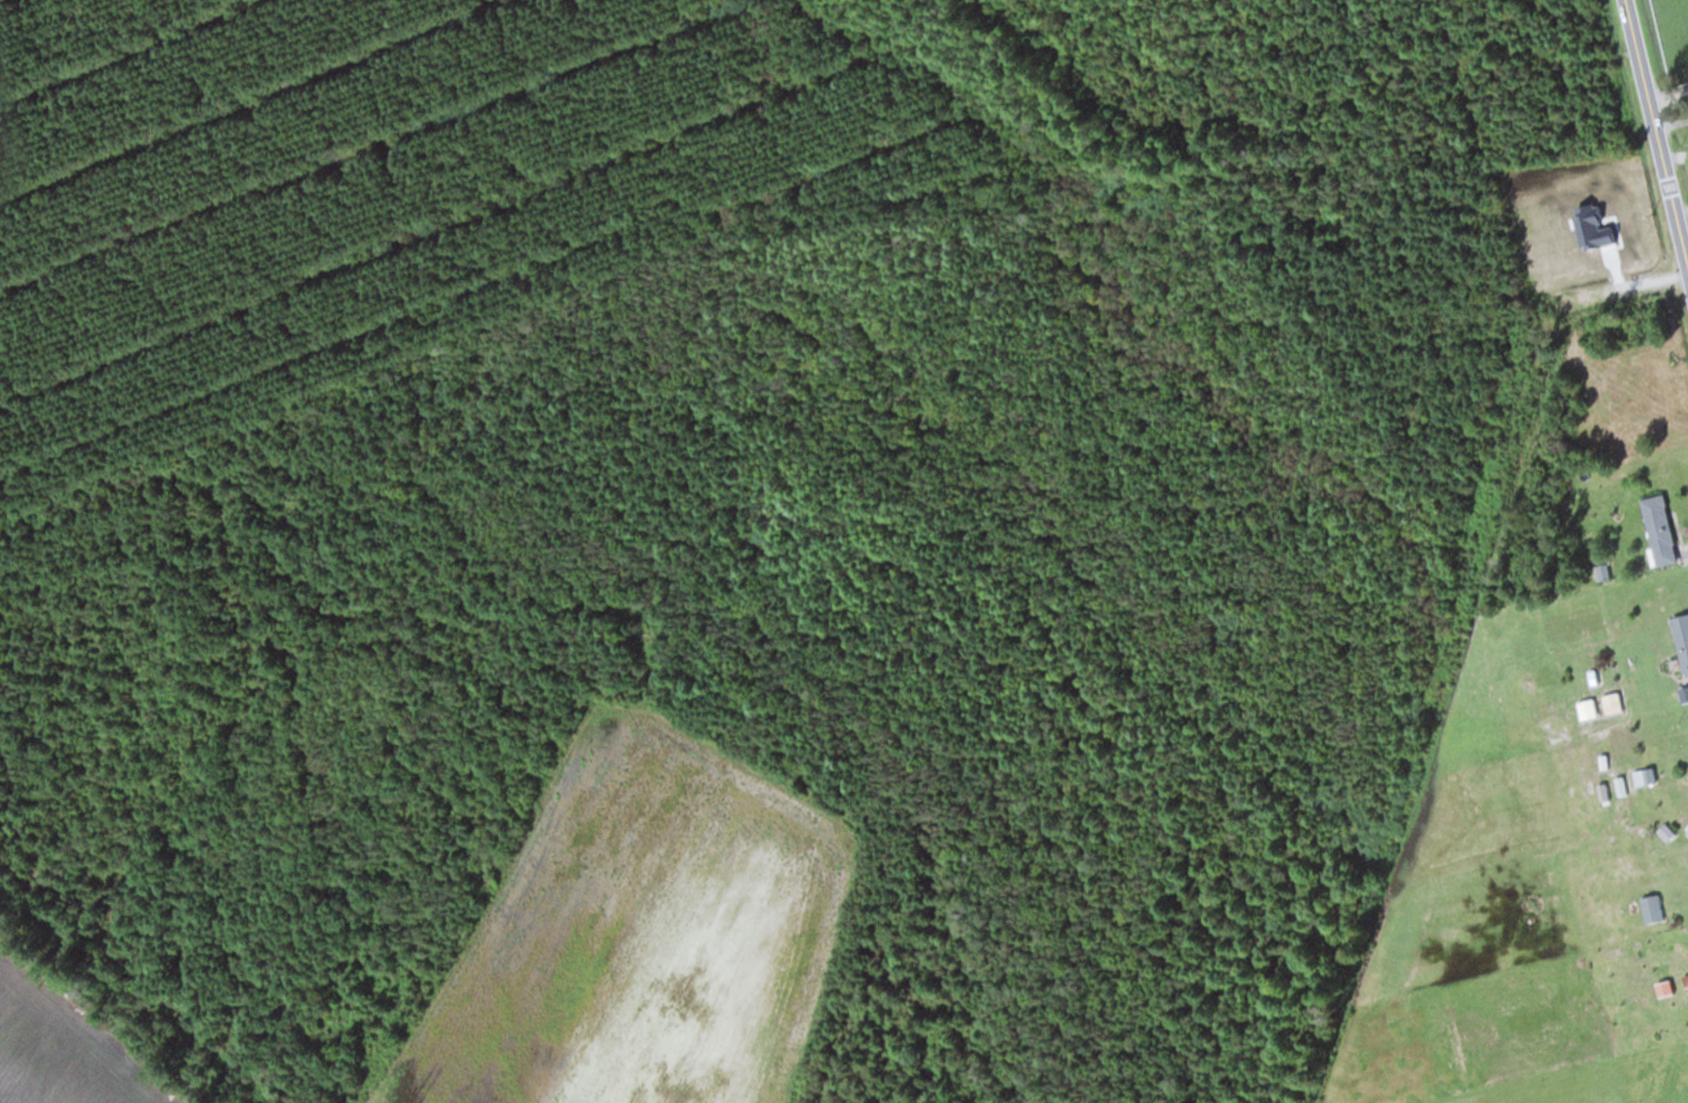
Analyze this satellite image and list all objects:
road: (1668, 94)
road: (1656, 130)
building: (1658, 535)
building: (1680, 640)
building: (1611, 702)
building: (1586, 708)
building: (1656, 862)
building: (1649, 908)
building: (1685, 981)

